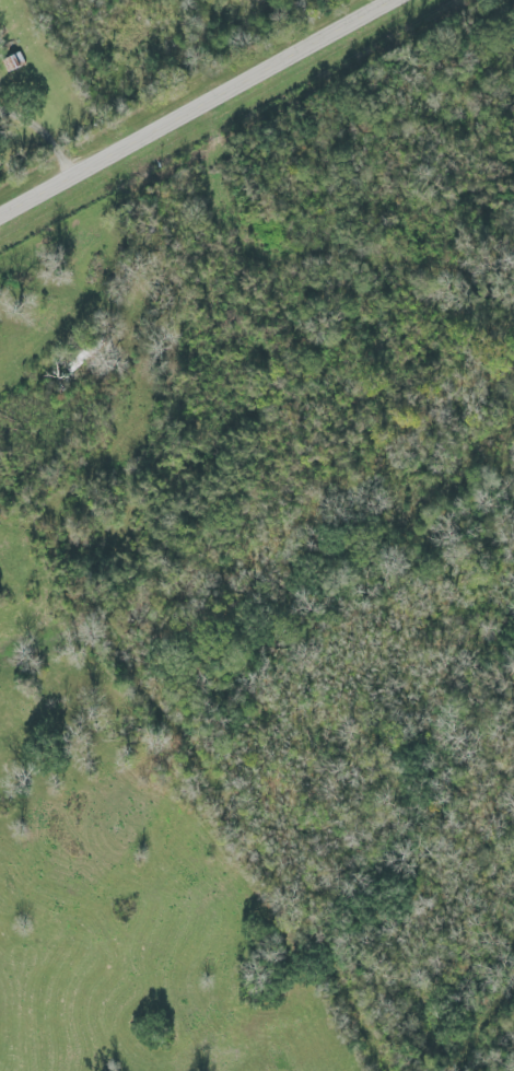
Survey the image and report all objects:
building: (12, 63)
road: (203, 110)
road: (45, 136)

